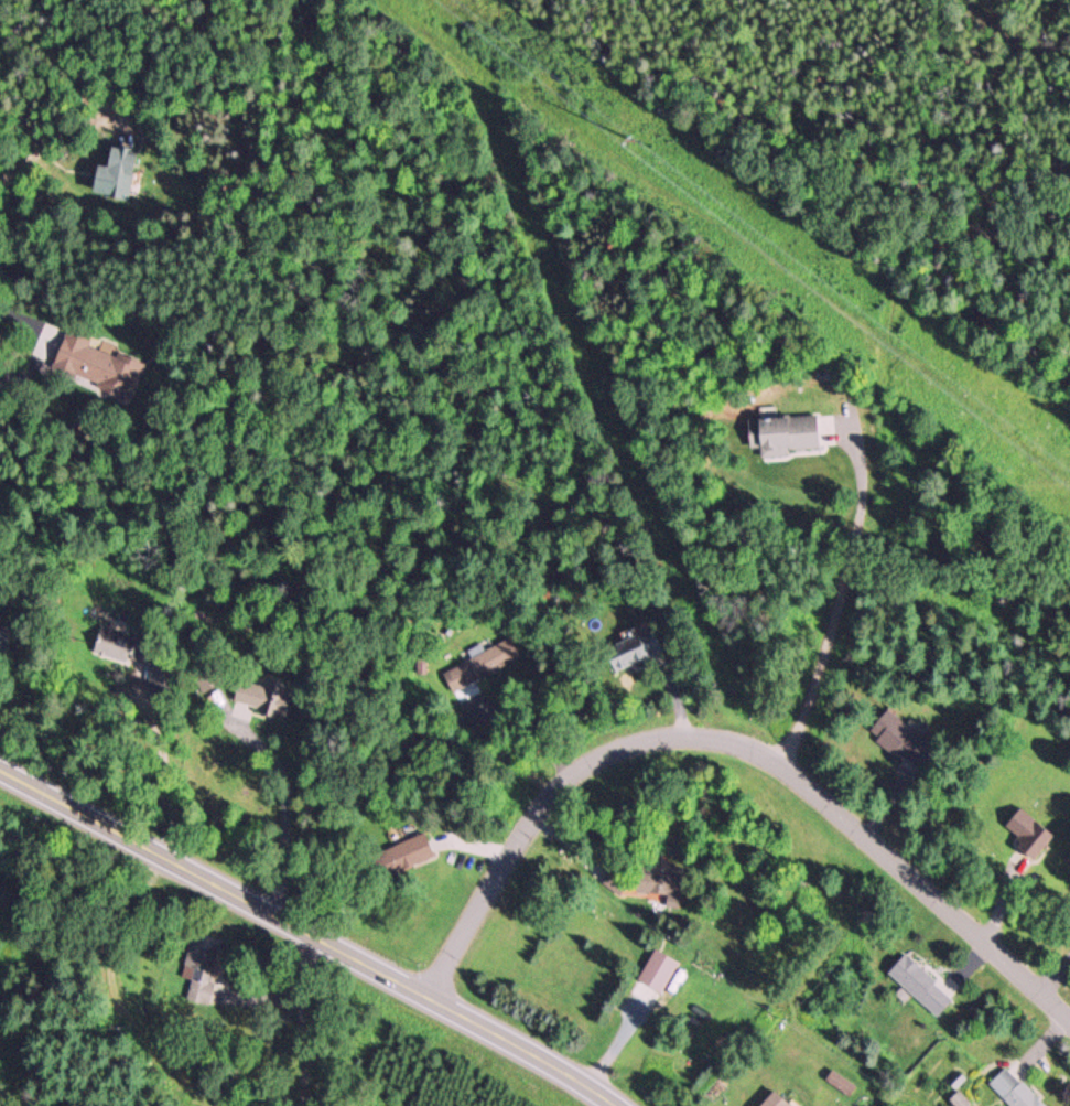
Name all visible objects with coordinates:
road: (1039, 40)
power tower: (635, 137)
building: (117, 174)
road: (176, 339)
building: (98, 365)
road: (62, 384)
building: (786, 436)
road: (837, 595)
building: (117, 645)
building: (637, 652)
building: (264, 691)
building: (903, 742)
road: (729, 745)
building: (1029, 834)
building: (402, 856)
building: (616, 883)
road: (304, 934)
building: (659, 971)
building: (922, 986)
building: (202, 991)
building: (1014, 1091)
building: (778, 1100)

